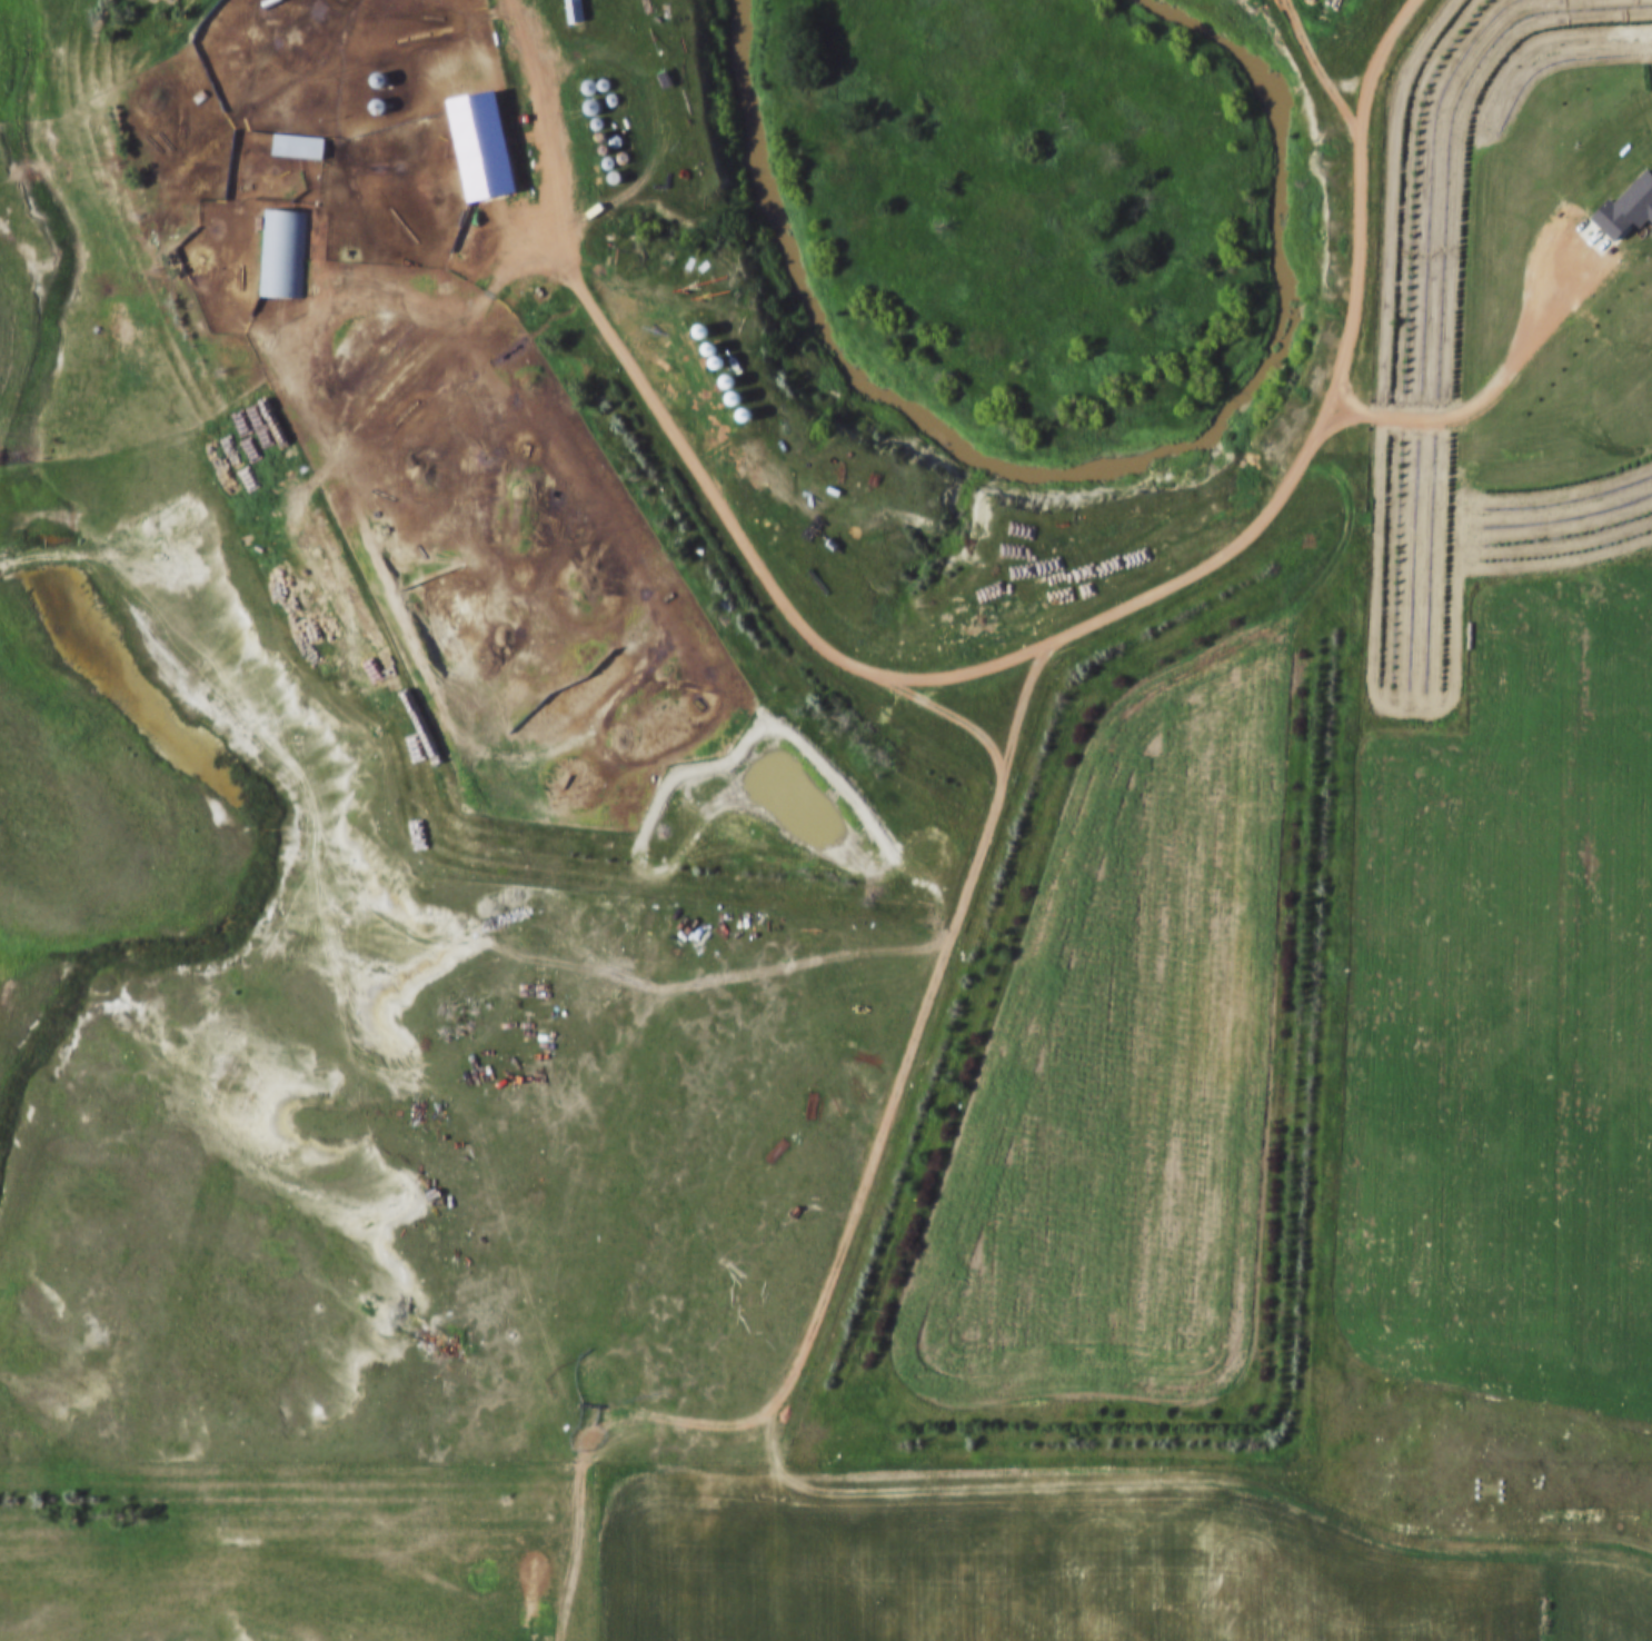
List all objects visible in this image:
building: (573, 10)
road: (1320, 76)
building: (374, 79)
road: (539, 107)
building: (478, 143)
building: (296, 145)
building: (281, 252)
road: (432, 299)
river: (1078, 441)
road: (1069, 633)
road: (1431, 1529)

